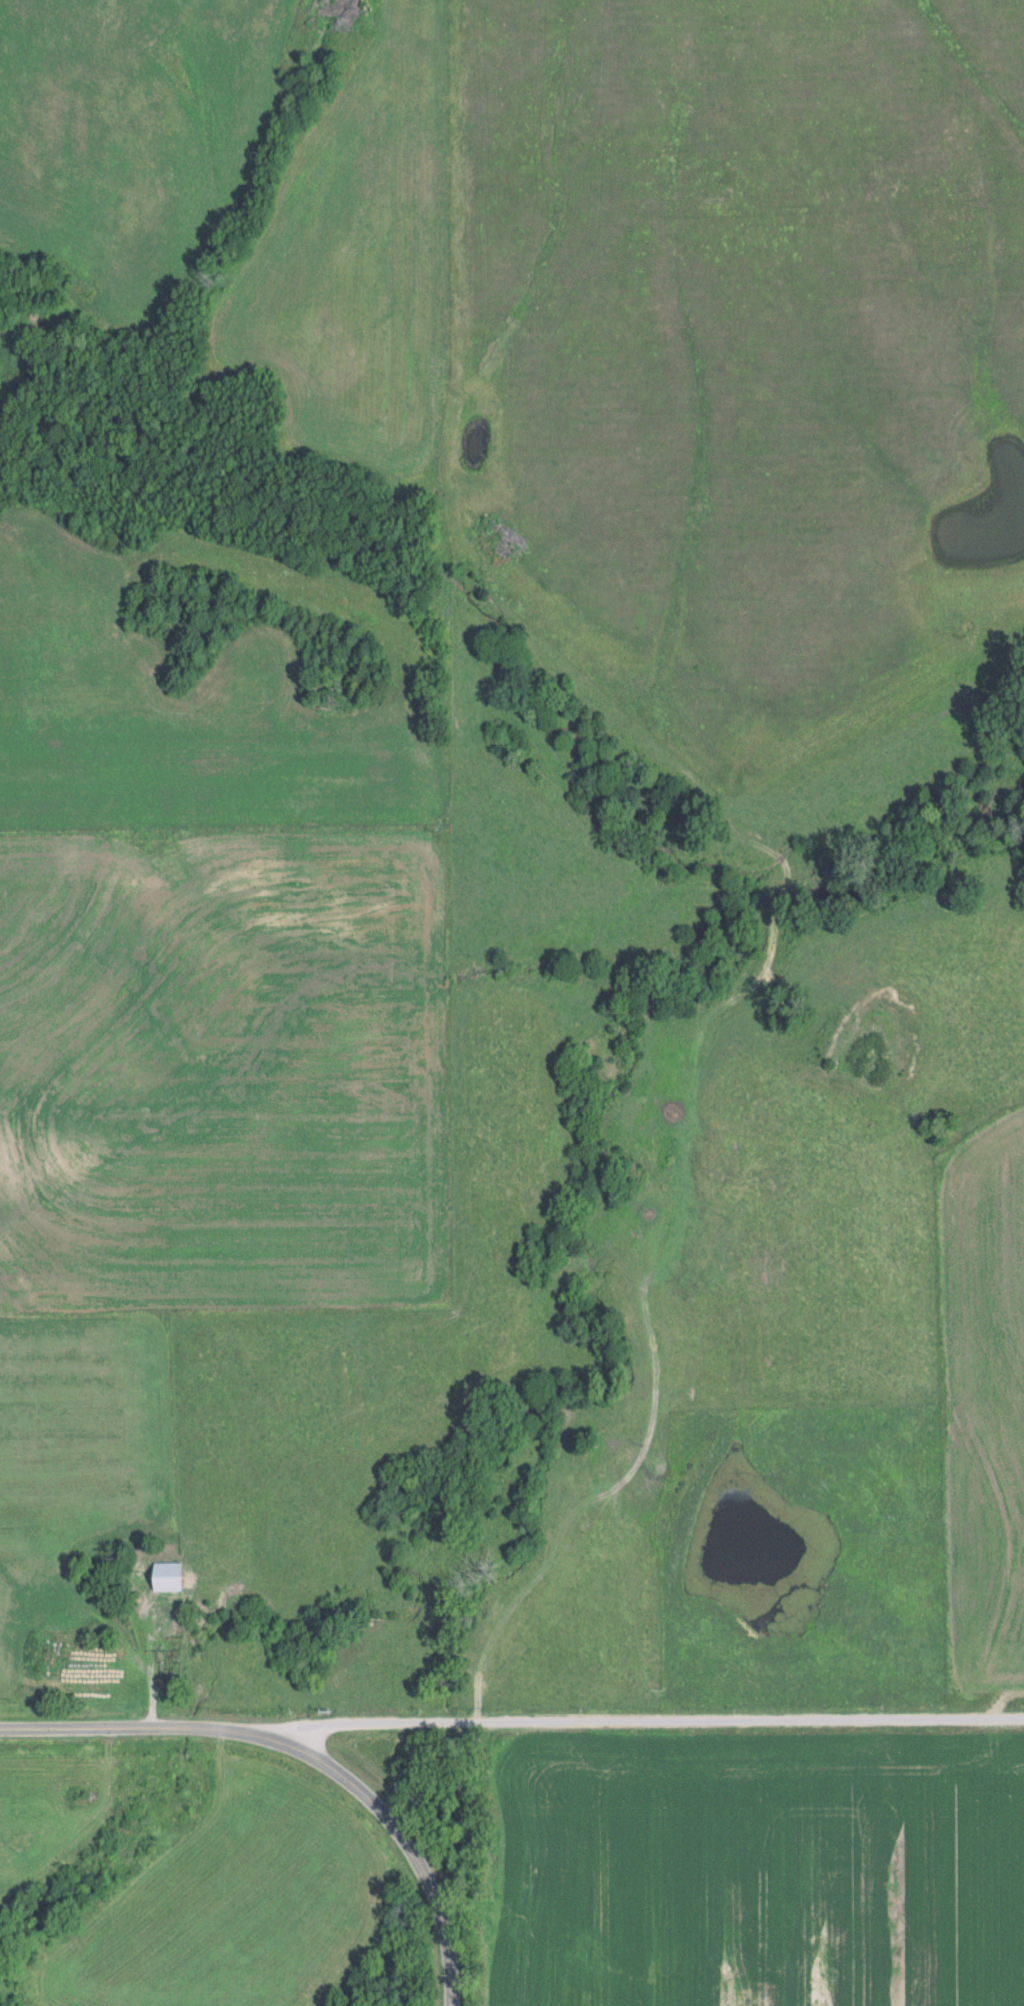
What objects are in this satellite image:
building: (162, 1576)
road: (1000, 1715)
road: (601, 1720)
road: (310, 1749)

